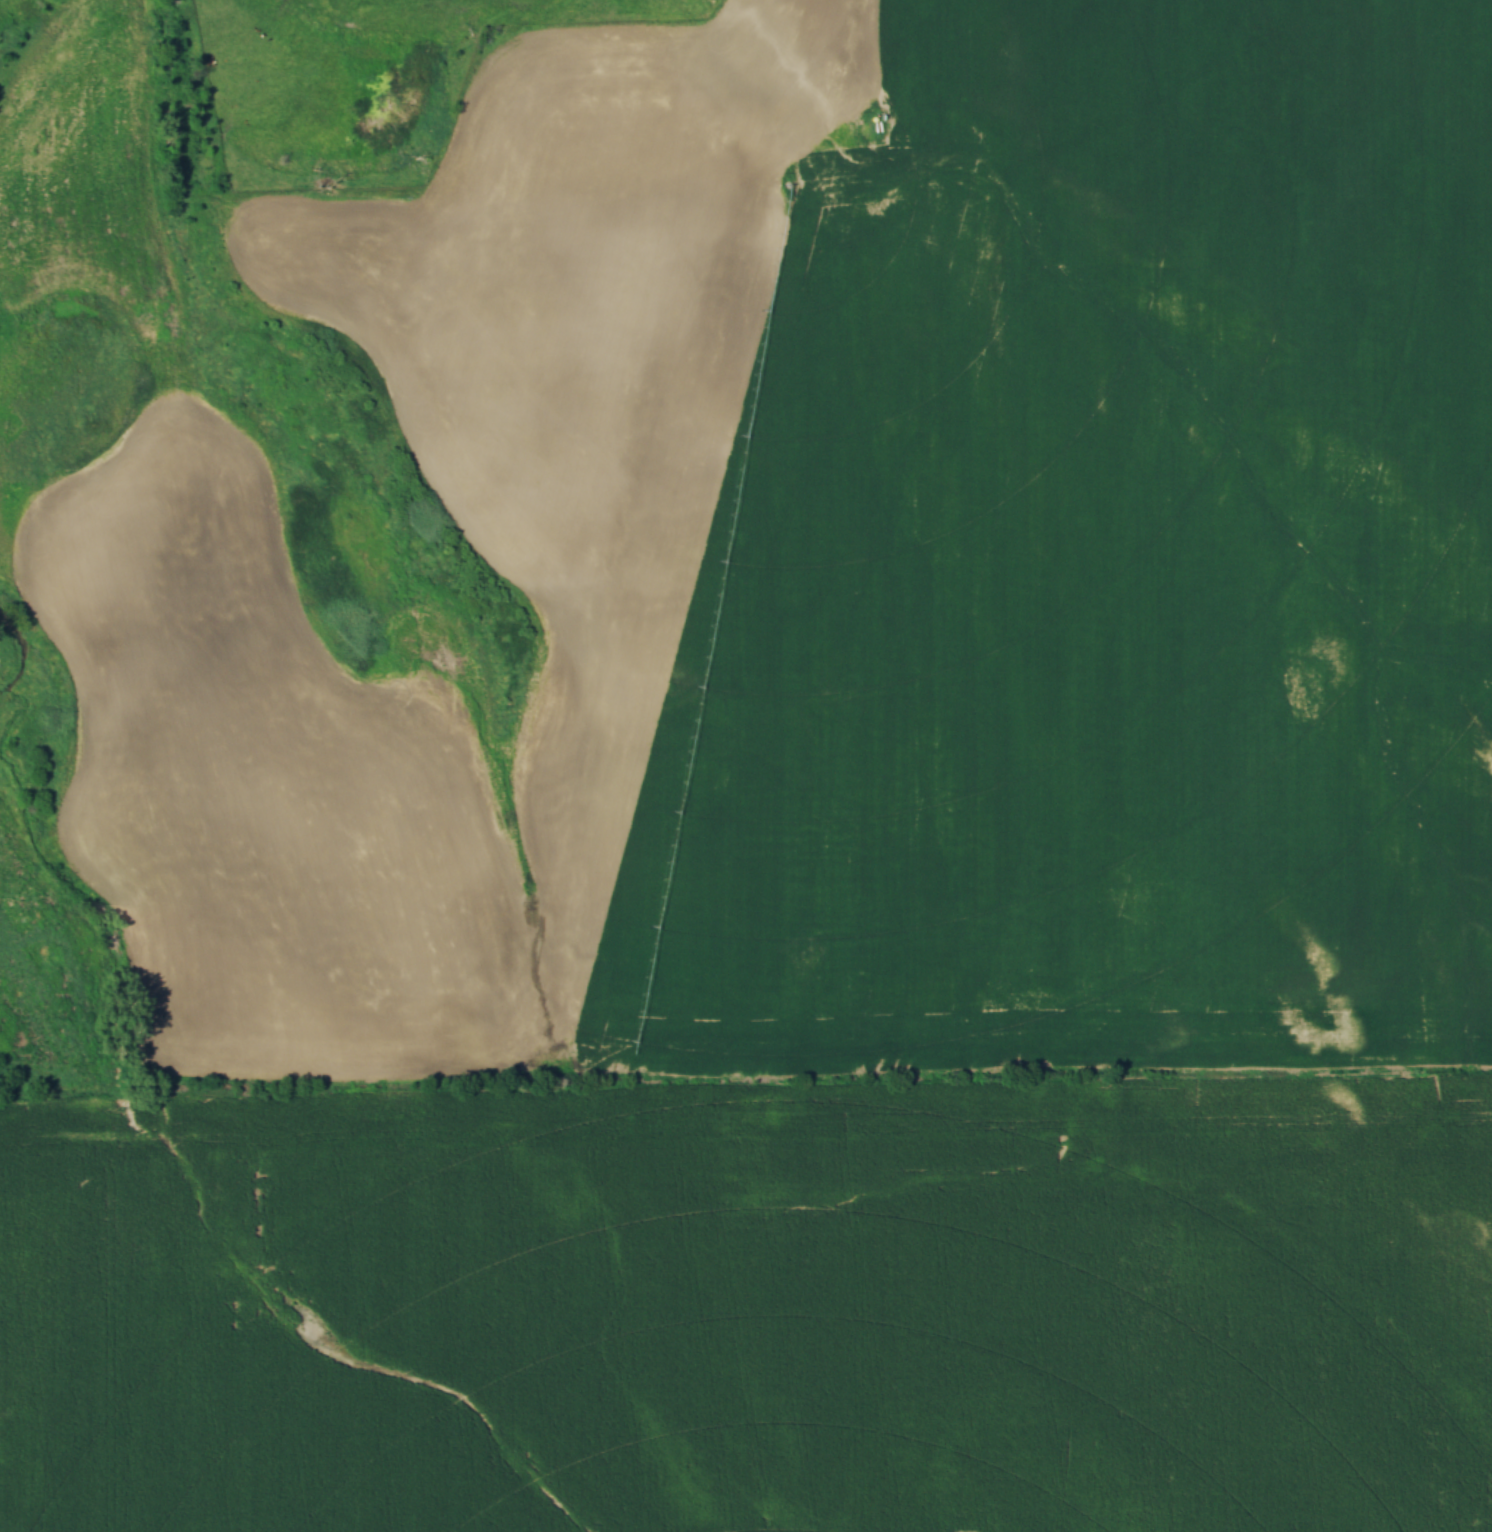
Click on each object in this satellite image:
river: (25, 652)

